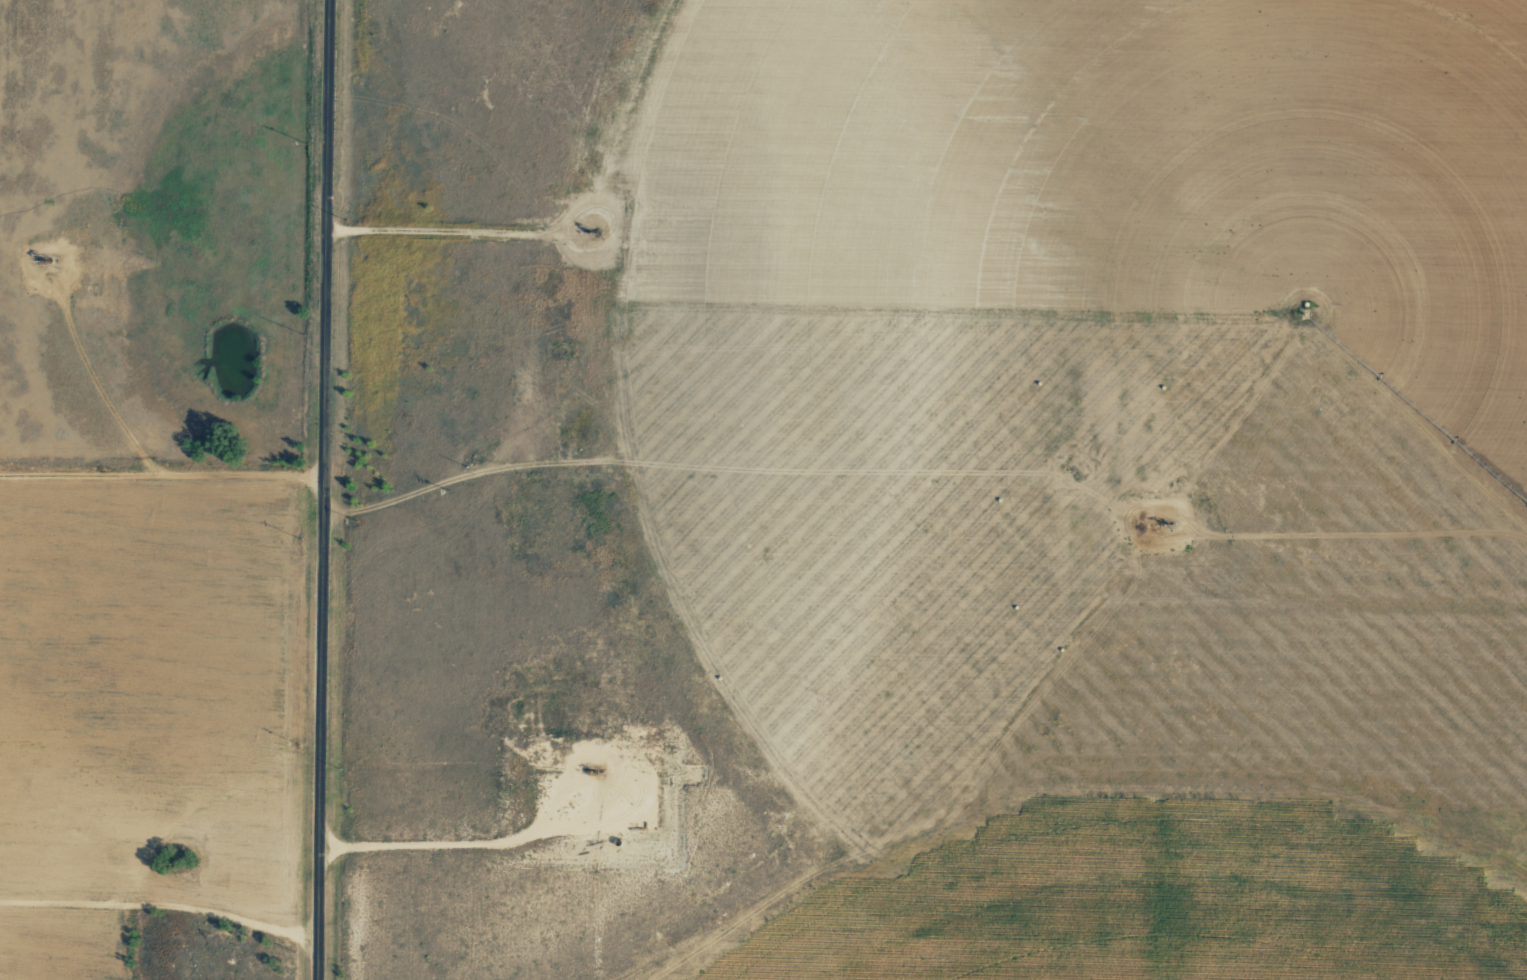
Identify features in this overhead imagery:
petroleum well: (49, 260)
road: (332, 490)
petroleum well: (600, 781)

